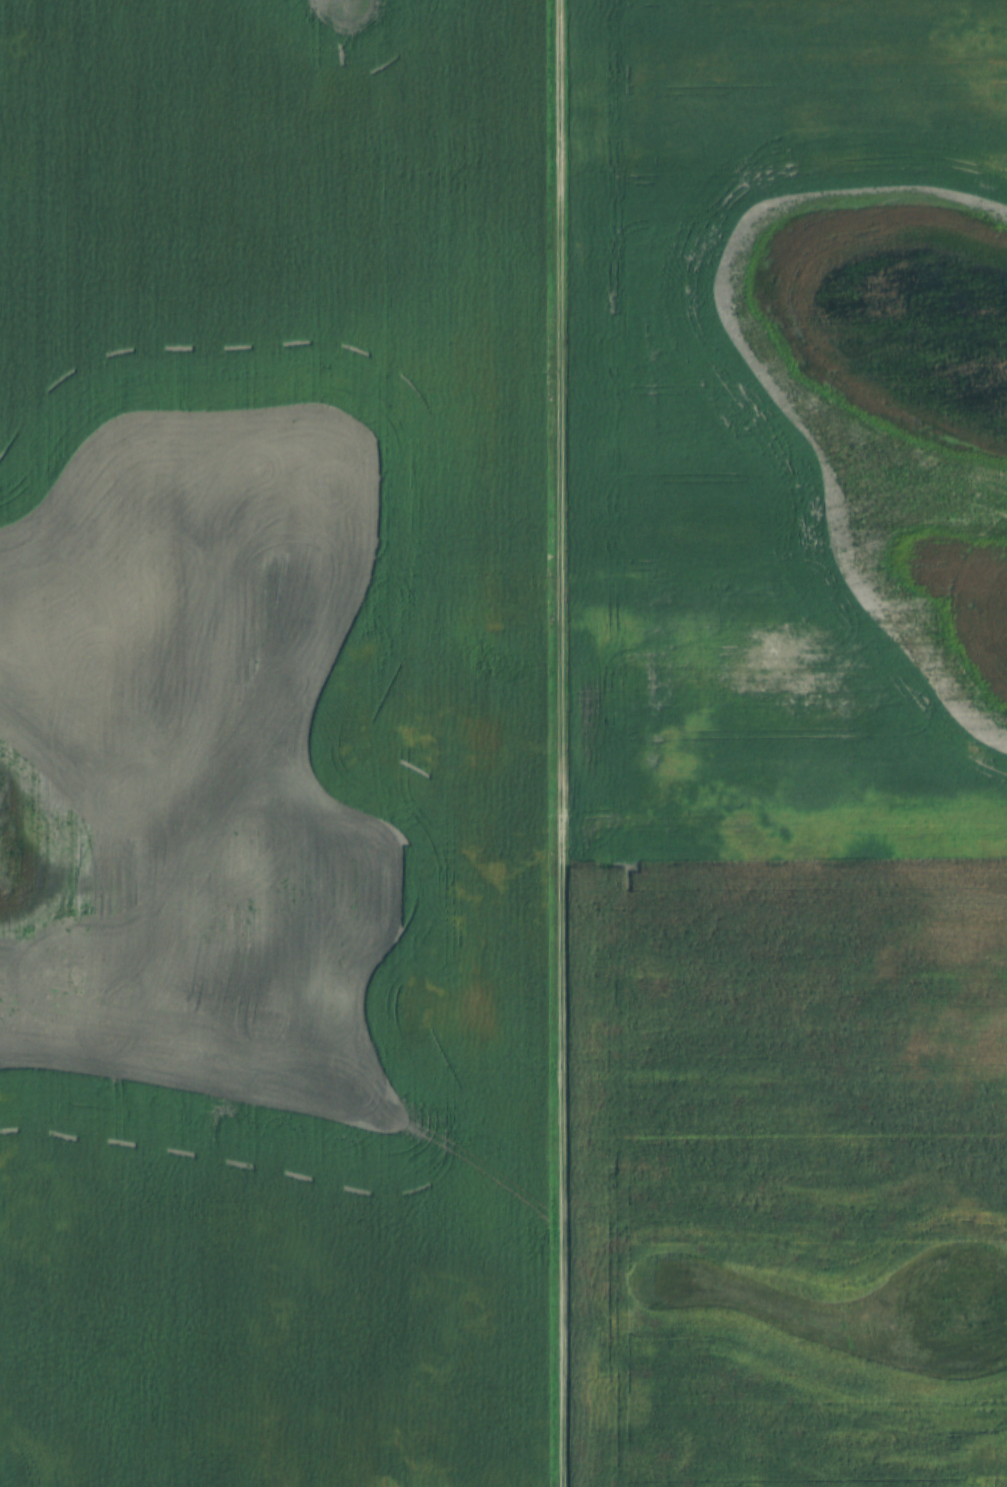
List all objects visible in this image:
road: (561, 743)

